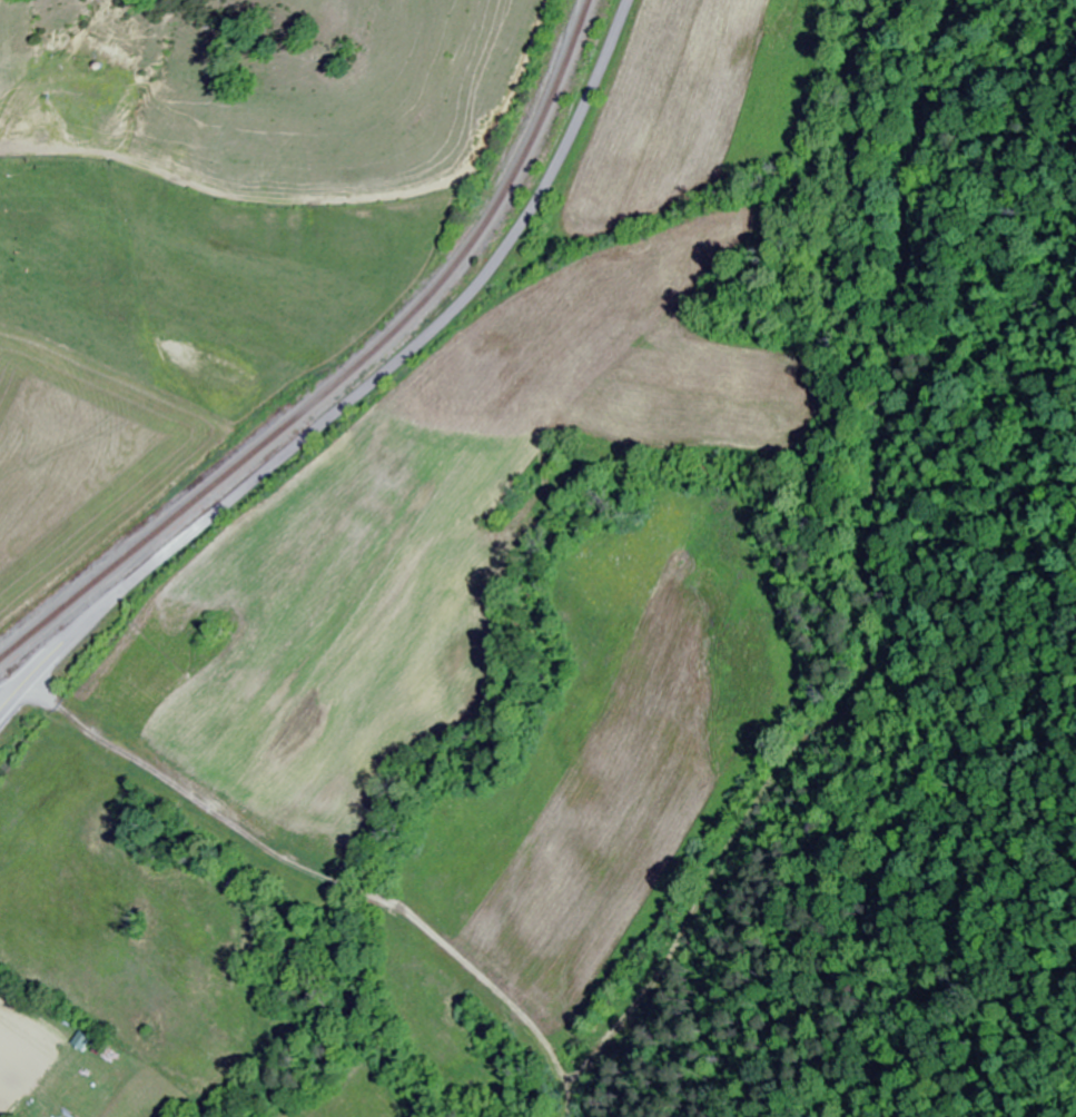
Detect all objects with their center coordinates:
railway: (346, 369)
road: (362, 389)

